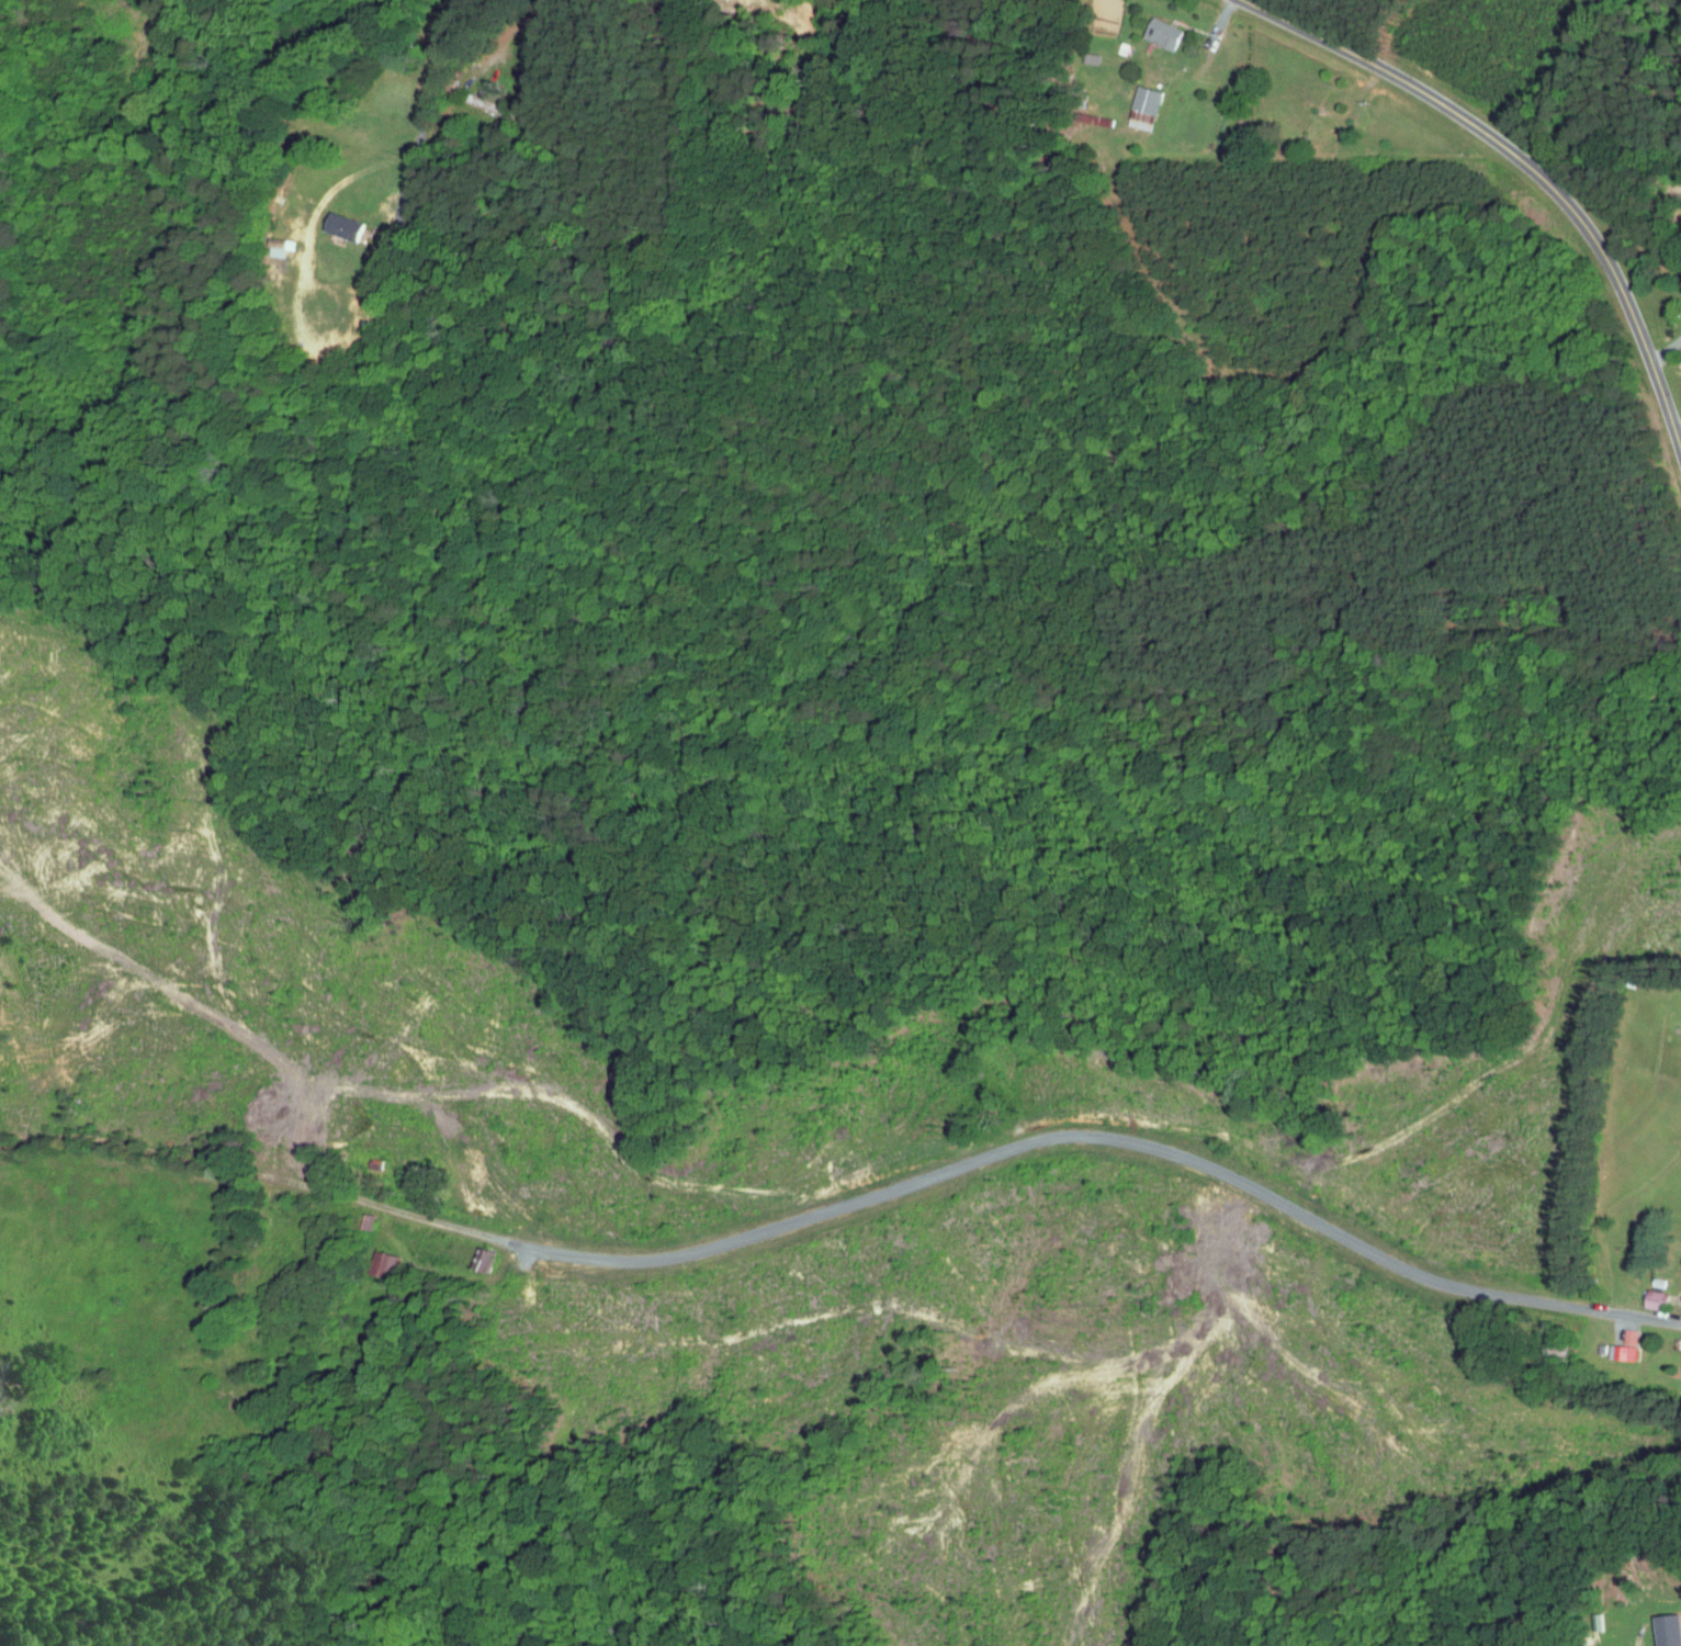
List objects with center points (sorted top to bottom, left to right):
building: (1153, 26)
road: (512, 30)
building: (1135, 101)
road: (422, 114)
road: (1528, 170)
building: (335, 219)
road: (1663, 353)
road: (1677, 439)
road: (1005, 1151)
building: (376, 1258)
building: (1678, 1259)
building: (1647, 1293)
building: (1617, 1339)
building: (1678, 1343)
building: (1603, 1344)
building: (1659, 1627)

